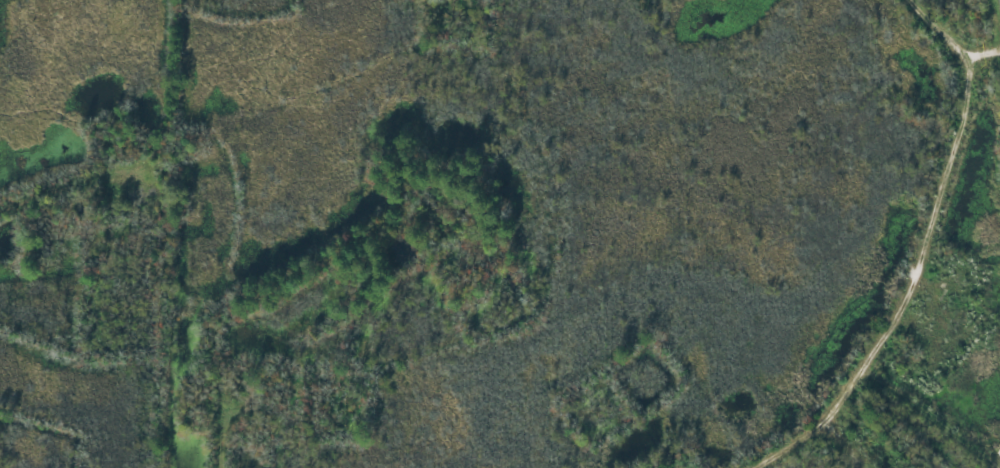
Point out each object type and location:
road: (921, 46)
road: (34, 171)
road: (864, 268)
road: (916, 408)

